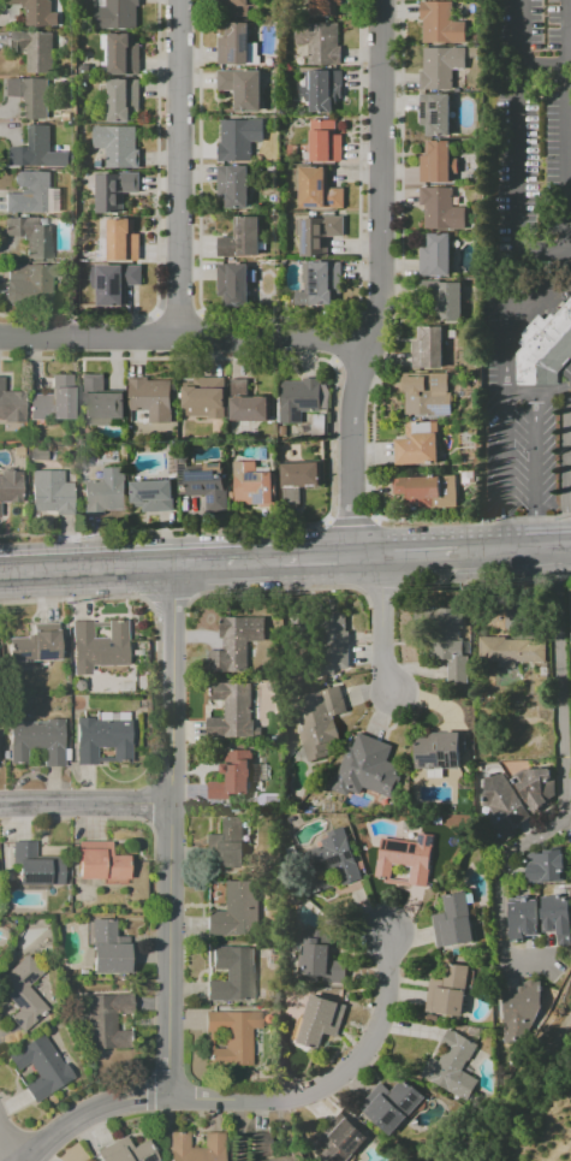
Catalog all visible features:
building: (239, 7)
building: (327, 8)
building: (40, 12)
building: (120, 14)
building: (444, 25)
rooftop solar panel: (246, 43)
building: (323, 45)
building: (240, 48)
building: (37, 51)
building: (124, 55)
rooftop solar panel: (237, 55)
road: (517, 55)
building: (444, 69)
building: (245, 90)
building: (326, 91)
building: (32, 97)
building: (126, 101)
rooftop solar panel: (433, 102)
rooftop solar panel: (420, 109)
building: (439, 115)
rooftop solar panel: (435, 117)
road: (565, 125)
building: (242, 141)
building: (328, 143)
building: (121, 148)
building: (37, 150)
building: (441, 164)
road: (178, 170)
road: (399, 176)
rooftop solar panel: (319, 185)
building: (237, 188)
building: (320, 190)
building: (118, 192)
building: (37, 196)
rooftop solar panel: (55, 196)
road: (515, 201)
rooftop solar panel: (331, 202)
rooftop solar panel: (314, 205)
building: (445, 209)
rooftop solar panel: (303, 231)
building: (321, 236)
building: (35, 237)
building: (244, 239)
building: (126, 242)
building: (439, 256)
road: (377, 278)
rooftop solar panel: (311, 280)
building: (325, 282)
building: (35, 284)
building: (117, 284)
building: (238, 285)
building: (446, 300)
road: (177, 314)
road: (182, 340)
building: (430, 350)
building: (546, 350)
road: (504, 355)
road: (552, 391)
road: (518, 395)
building: (429, 396)
building: (207, 399)
building: (154, 401)
building: (301, 401)
building: (56, 403)
building: (105, 404)
building: (12, 405)
building: (249, 405)
rooftop solar panel: (440, 409)
building: (319, 427)
building: (421, 445)
building: (263, 455)
road: (533, 456)
road: (502, 457)
rooftop solar panel: (213, 468)
rooftop solar panel: (197, 476)
rooftop solar panel: (248, 476)
building: (301, 481)
building: (208, 484)
building: (256, 487)
building: (12, 490)
road: (567, 490)
building: (108, 493)
building: (421, 493)
building: (54, 494)
rooftop solar panel: (145, 494)
road: (369, 496)
building: (155, 497)
rooftop solar panel: (257, 497)
road: (552, 517)
road: (374, 519)
road: (517, 519)
road: (326, 521)
road: (349, 521)
road: (531, 532)
road: (501, 533)
road: (463, 549)
road: (316, 553)
road: (262, 556)
road: (208, 558)
road: (84, 565)
road: (564, 575)
building: (570, 612)
road: (382, 620)
building: (448, 641)
building: (238, 645)
building: (38, 646)
building: (333, 646)
building: (102, 647)
building: (513, 652)
rooftop solar panel: (24, 654)
rooftop solar panel: (46, 654)
building: (233, 712)
building: (321, 719)
building: (103, 740)
building: (38, 741)
building: (438, 753)
rooftop solar panel: (442, 756)
rooftop solar panel: (454, 757)
rooftop solar panel: (426, 759)
rooftop solar panel: (448, 759)
rooftop solar panel: (441, 763)
building: (363, 768)
road: (560, 769)
building: (231, 784)
building: (537, 788)
building: (502, 804)
road: (84, 805)
building: (225, 845)
building: (404, 858)
building: (100, 863)
building: (325, 864)
building: (34, 866)
building: (543, 866)
road: (167, 908)
building: (234, 911)
building: (557, 917)
building: (521, 918)
building: (452, 922)
building: (108, 949)
building: (319, 958)
building: (228, 975)
building: (446, 991)
building: (25, 993)
building: (521, 1011)
building: (106, 1020)
building: (319, 1020)
building: (232, 1036)
building: (38, 1066)
building: (451, 1066)
road: (327, 1078)
rooftop solar panel: (412, 1098)
building: (389, 1104)
rooftop solar panel: (405, 1106)
rooftop solar panel: (389, 1116)
building: (339, 1139)
building: (214, 1141)
building: (260, 1144)
road: (5, 1149)
building: (125, 1151)
rooftop solar panel: (147, 1160)

